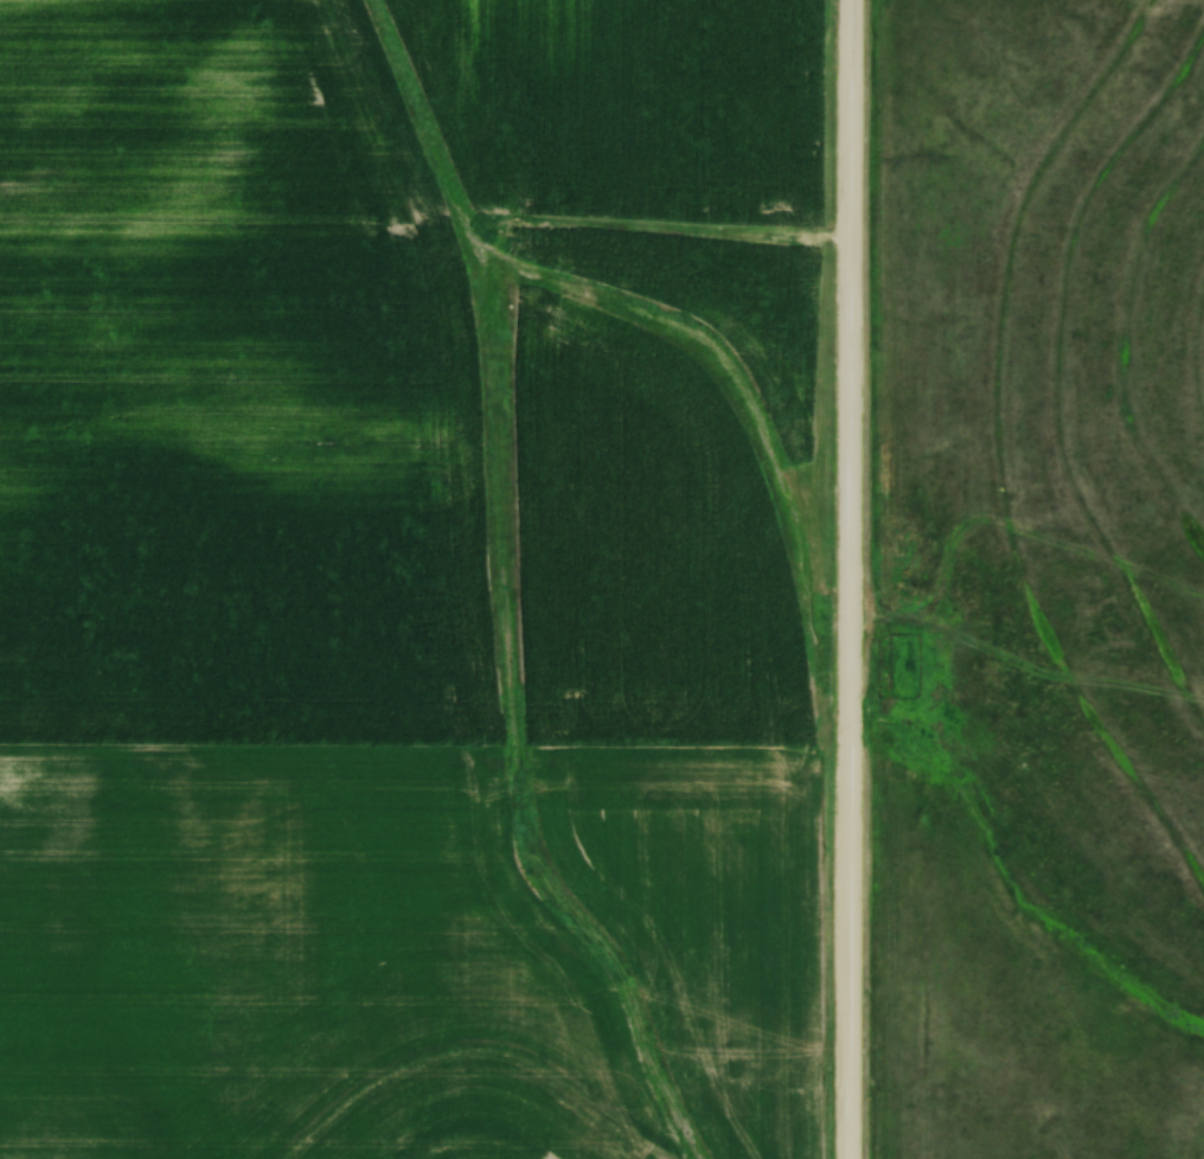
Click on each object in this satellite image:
road: (851, 579)

